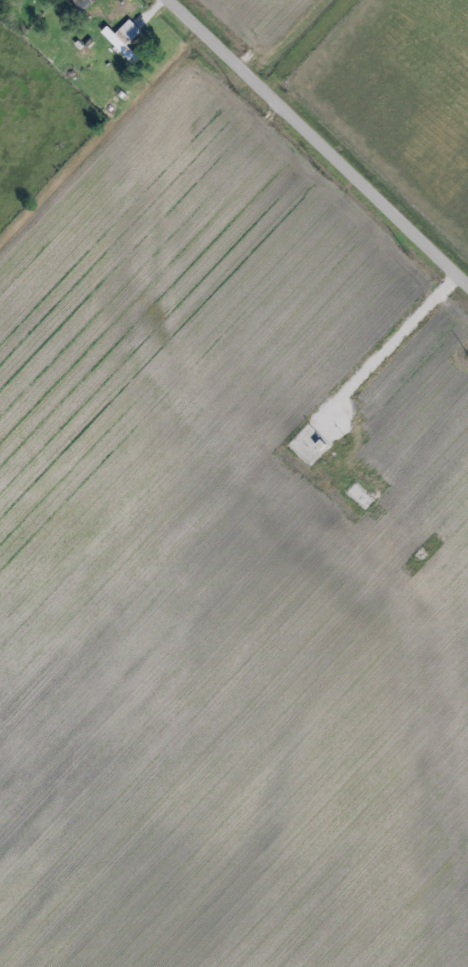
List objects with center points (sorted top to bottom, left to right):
building: (79, 4)
building: (121, 38)
road: (318, 143)
road: (390, 343)

